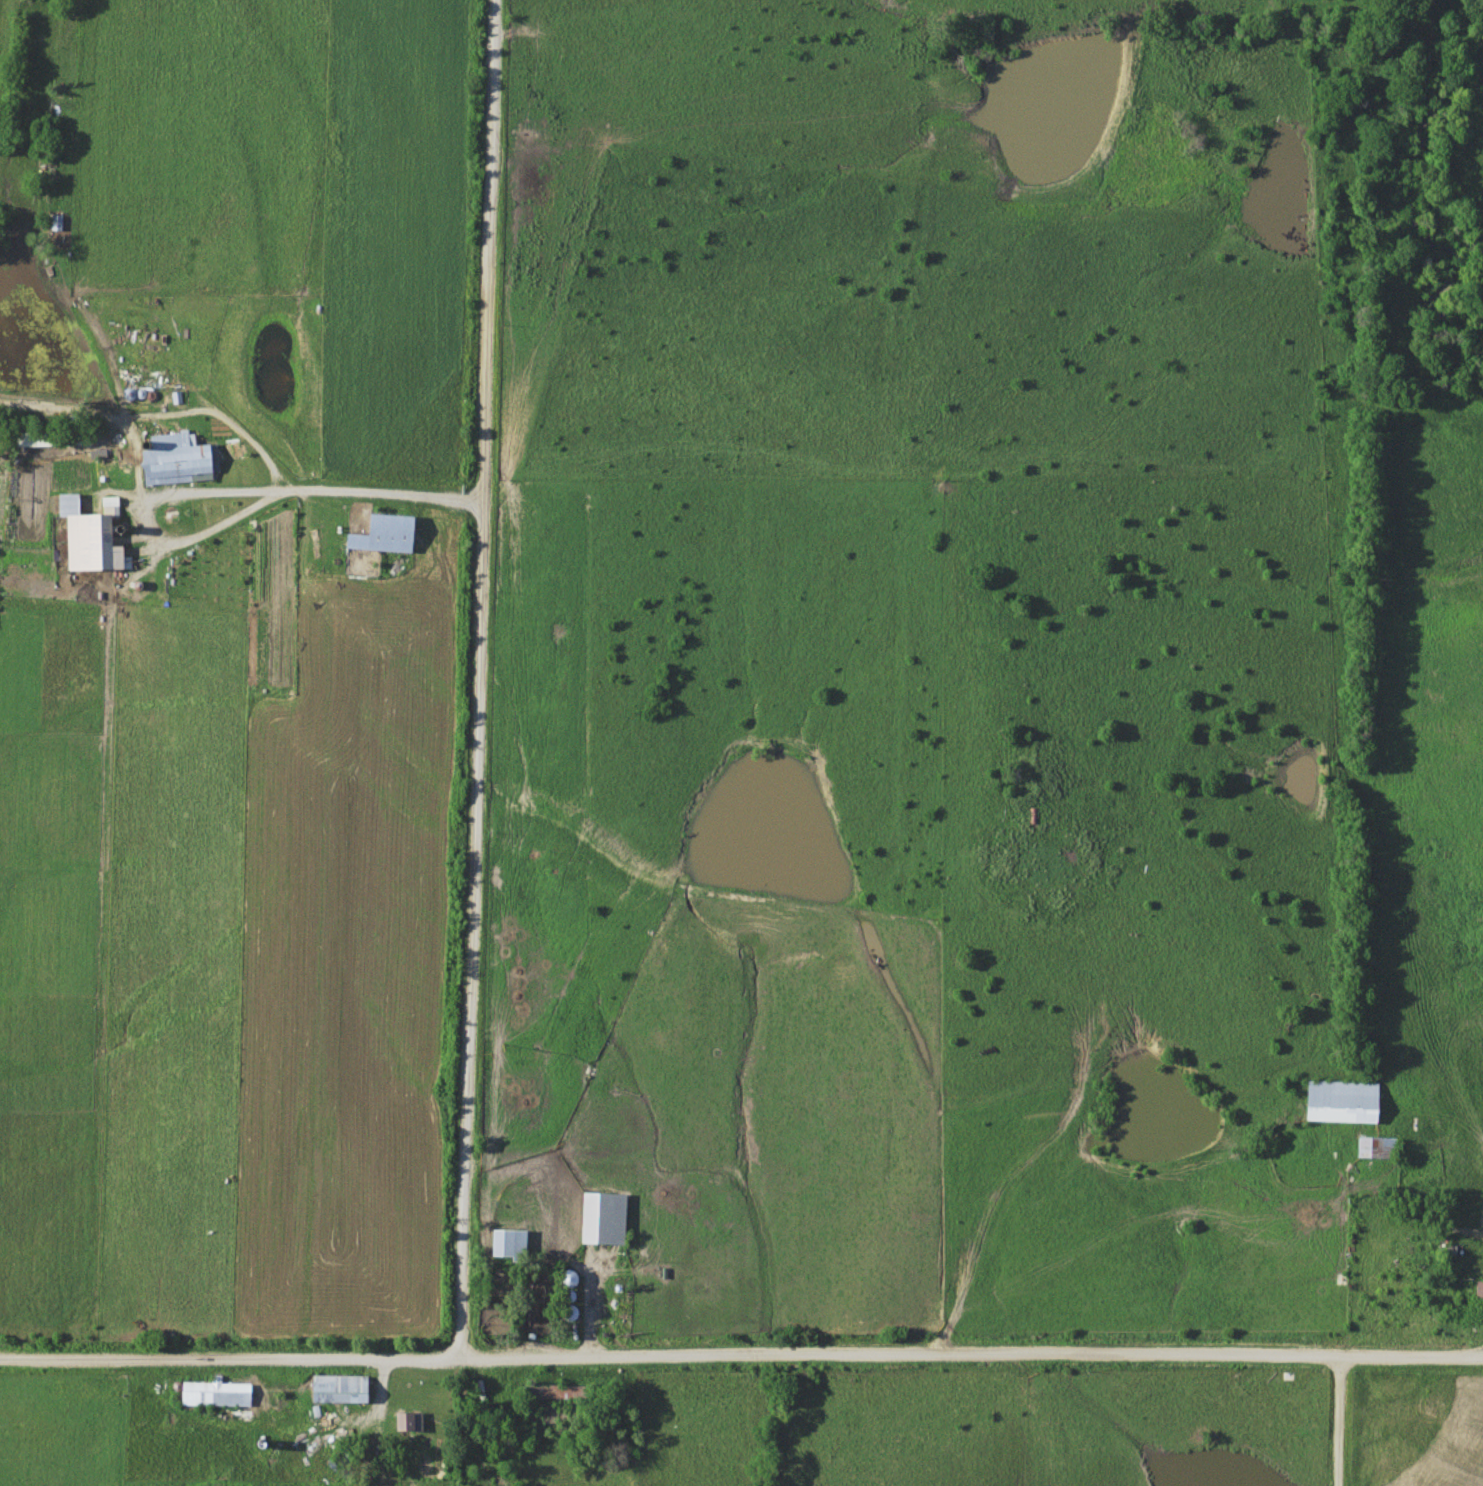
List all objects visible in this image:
building: (176, 459)
building: (385, 534)
building: (99, 542)
road: (479, 678)
building: (1342, 1103)
building: (1376, 1148)
building: (603, 1219)
building: (508, 1244)
building: (1479, 1290)
road: (975, 1355)
road: (234, 1358)
building: (340, 1390)
building: (215, 1394)
road: (1340, 1420)
building: (409, 1423)

